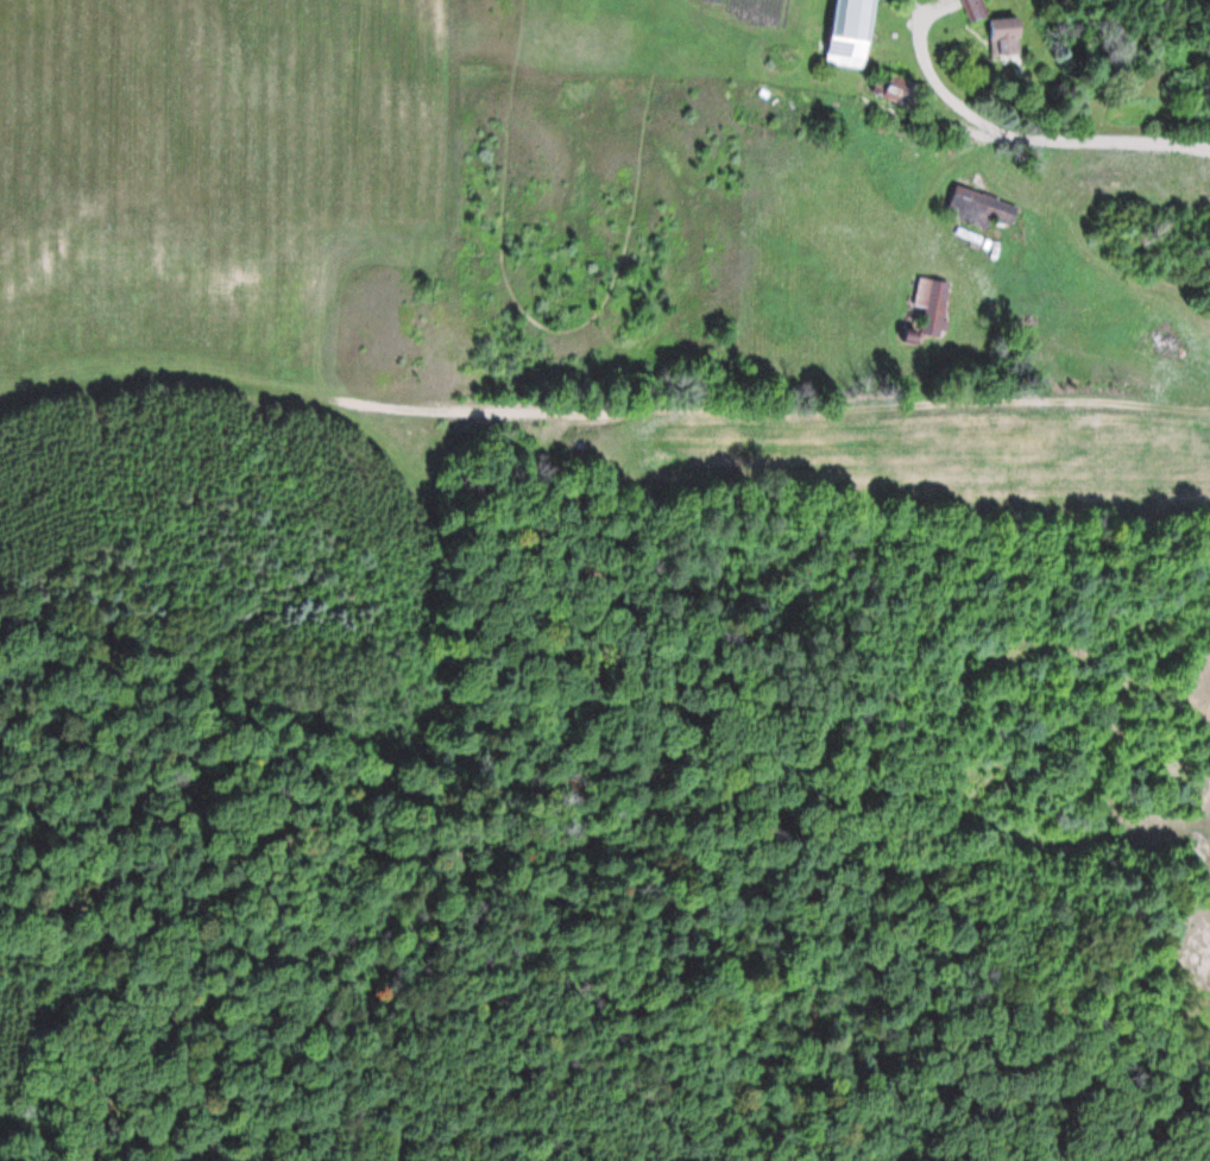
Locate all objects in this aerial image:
building: (976, 8)
building: (852, 32)
building: (1006, 36)
road: (1028, 135)
building: (981, 207)
building: (933, 305)

